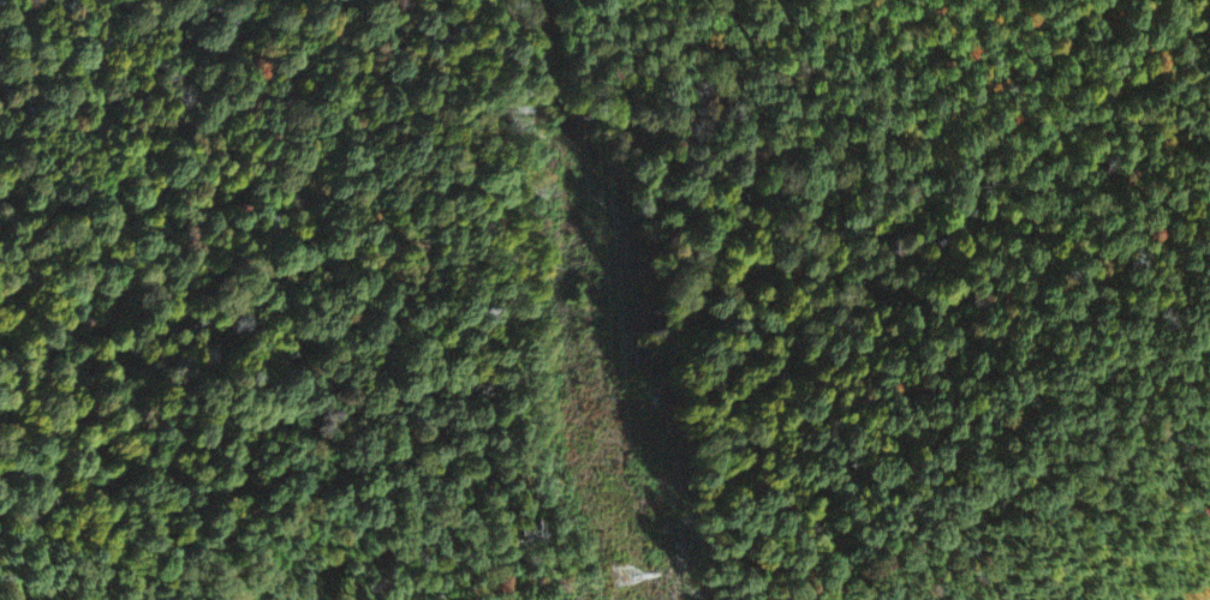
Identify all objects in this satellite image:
power tower: (621, 574)

